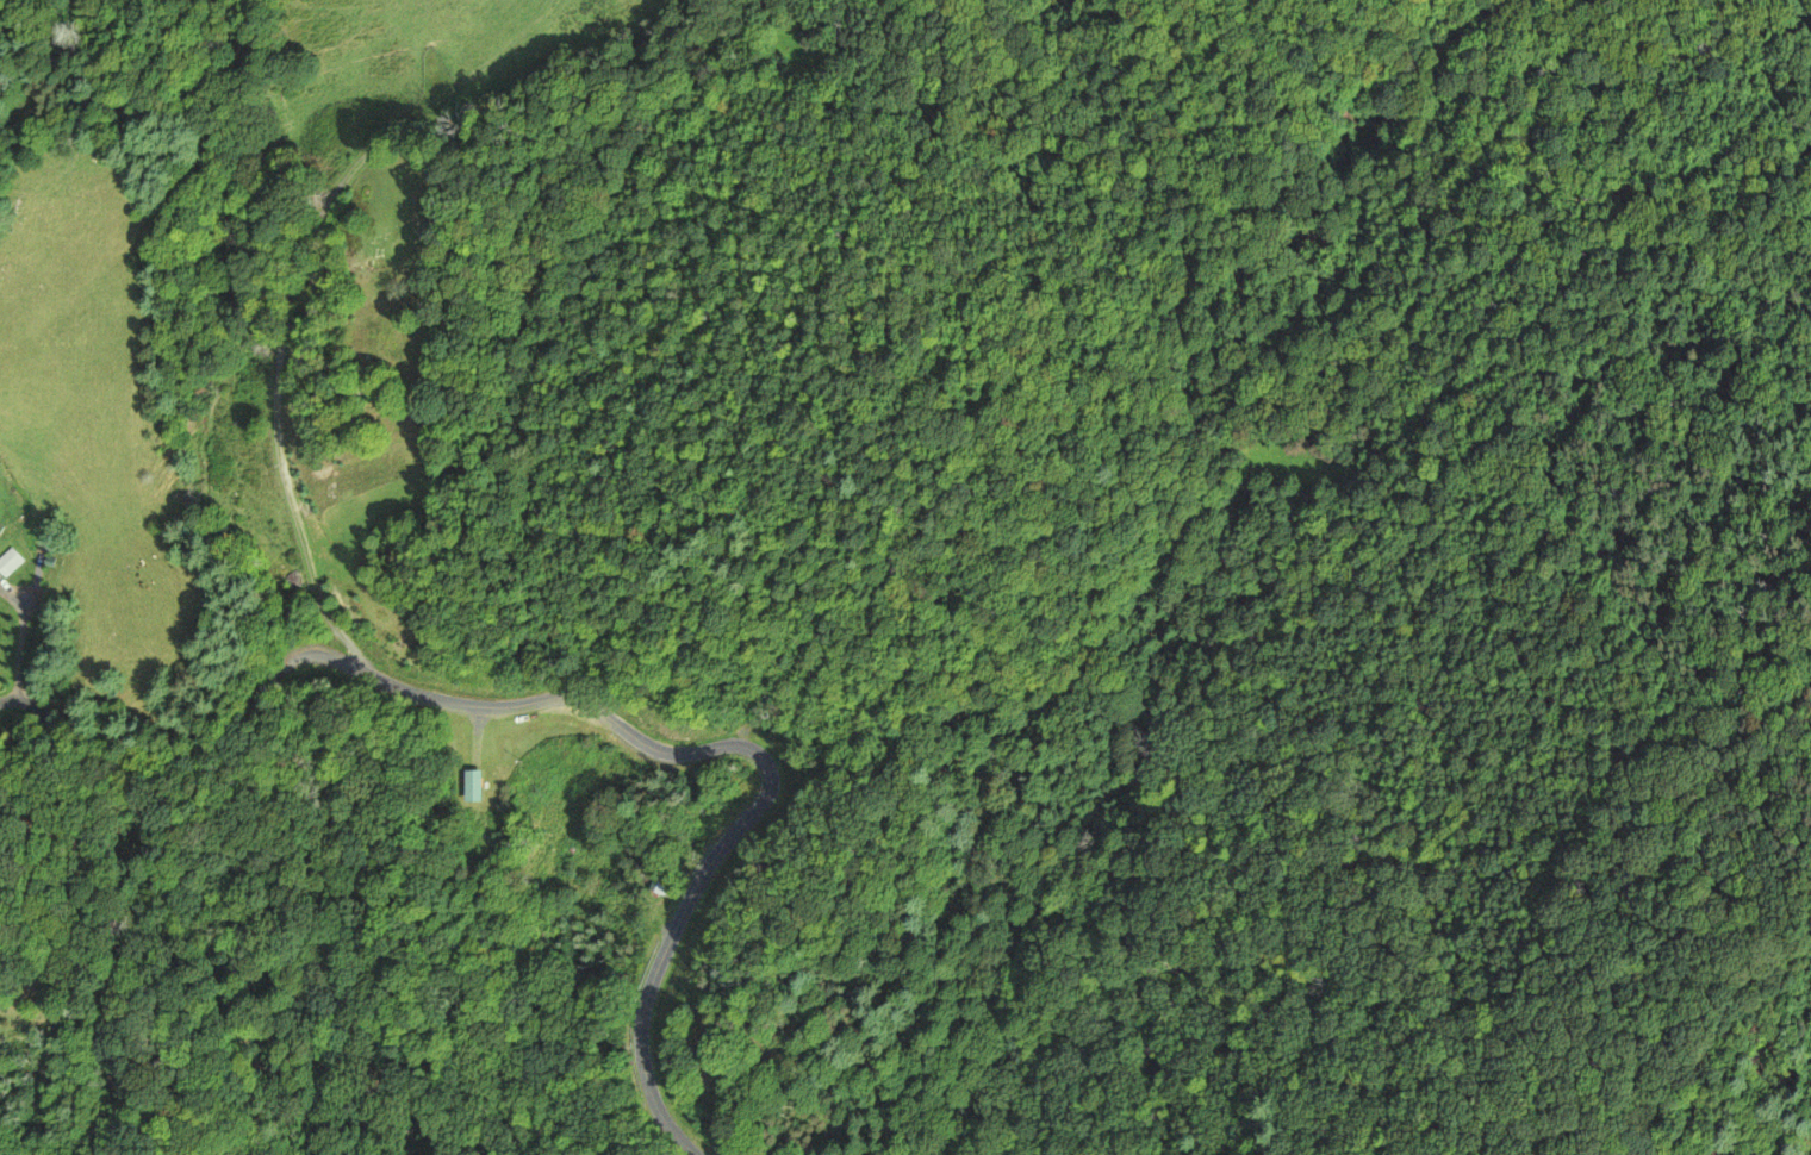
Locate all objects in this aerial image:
road: (294, 262)
building: (8, 561)
road: (18, 651)
road: (590, 705)
road: (193, 758)
building: (664, 884)
road: (646, 1003)

